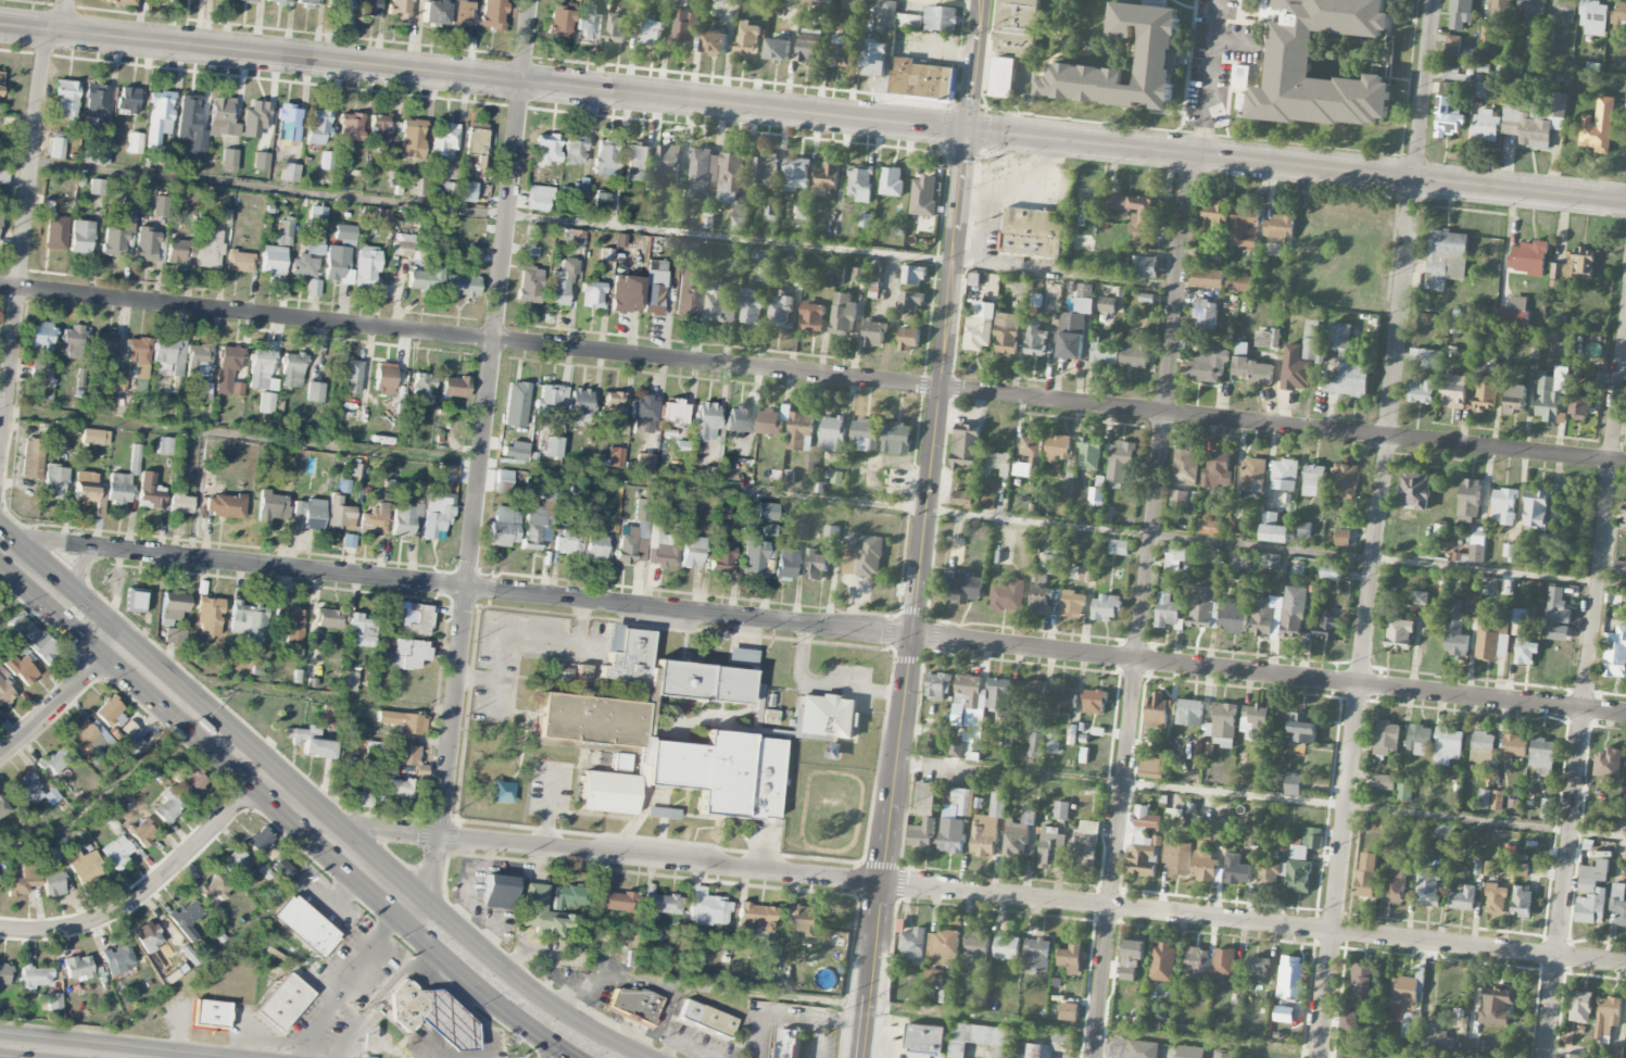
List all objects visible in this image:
building: (245, 0)
building: (702, 0)
building: (121, 1)
building: (278, 2)
building: (308, 2)
building: (823, 3)
road: (947, 3)
building: (341, 4)
building: (368, 8)
building: (853, 8)
building: (401, 10)
building: (1500, 10)
building: (1530, 11)
building: (1564, 11)
building: (434, 12)
building: (461, 12)
building: (1460, 13)
building: (492, 14)
building: (888, 14)
road: (64, 16)
building: (1593, 17)
building: (941, 18)
building: (560, 21)
building: (908, 22)
building: (590, 24)
building: (1017, 26)
building: (683, 27)
building: (617, 29)
building: (652, 33)
building: (1486, 34)
building: (747, 38)
road: (1236, 41)
building: (715, 43)
building: (808, 46)
building: (1451, 46)
building: (778, 50)
building: (842, 53)
building: (1159, 54)
building: (1291, 55)
building: (874, 59)
road: (975, 65)
building: (0, 73)
building: (1450, 76)
road: (1209, 77)
building: (1240, 77)
building: (1003, 78)
road: (483, 79)
building: (921, 79)
building: (1479, 90)
building: (65, 99)
building: (128, 100)
building: (96, 103)
building: (1556, 105)
building: (159, 117)
building: (222, 117)
building: (1447, 117)
building: (254, 118)
building: (287, 122)
building: (1524, 122)
building: (318, 126)
building: (351, 127)
building: (1598, 127)
building: (191, 128)
building: (379, 128)
building: (1485, 128)
traffic signals: (969, 133)
building: (412, 138)
building: (475, 138)
building: (444, 140)
building: (135, 142)
building: (58, 148)
building: (547, 149)
building: (575, 149)
building: (605, 155)
building: (228, 160)
building: (261, 161)
building: (481, 162)
building: (636, 162)
road: (1297, 165)
building: (667, 166)
building: (765, 171)
building: (289, 172)
building: (703, 173)
building: (797, 174)
building: (4, 177)
building: (730, 178)
building: (827, 179)
building: (892, 182)
building: (861, 184)
building: (97, 187)
building: (467, 191)
building: (924, 196)
building: (539, 198)
building: (601, 203)
building: (159, 205)
building: (770, 213)
building: (802, 213)
building: (1214, 215)
building: (1137, 216)
building: (867, 218)
road: (588, 222)
building: (316, 224)
building: (119, 228)
building: (1245, 228)
building: (285, 231)
building: (55, 232)
building: (345, 232)
building: (1033, 232)
building: (1278, 234)
building: (573, 236)
building: (80, 237)
road: (24, 243)
building: (146, 244)
building: (178, 249)
building: (209, 249)
building: (315, 249)
building: (403, 249)
building: (472, 253)
building: (762, 257)
building: (1445, 259)
building: (1528, 259)
building: (273, 260)
building: (240, 261)
building: (338, 264)
building: (304, 266)
building: (1575, 266)
building: (366, 267)
building: (1145, 267)
building: (913, 276)
building: (425, 278)
building: (869, 278)
building: (1207, 279)
building: (560, 281)
building: (1237, 281)
building: (529, 285)
building: (462, 286)
building: (653, 290)
building: (685, 290)
building: (1084, 291)
building: (625, 293)
building: (592, 294)
building: (910, 302)
building: (719, 303)
building: (1107, 305)
building: (749, 307)
building: (780, 312)
building: (1514, 313)
building: (1205, 314)
building: (843, 315)
building: (812, 317)
building: (980, 327)
road: (1625, 332)
building: (1007, 333)
building: (874, 335)
building: (1071, 336)
building: (41, 338)
building: (909, 339)
building: (1035, 339)
building: (1268, 339)
building: (1310, 340)
building: (72, 341)
building: (102, 348)
building: (1104, 351)
building: (168, 355)
building: (1134, 355)
building: (138, 356)
building: (1425, 357)
building: (197, 360)
building: (1208, 366)
building: (262, 369)
building: (292, 369)
building: (228, 371)
building: (1253, 371)
building: (39, 373)
road: (812, 375)
building: (351, 377)
building: (385, 378)
building: (1348, 380)
building: (455, 387)
building: (423, 388)
building: (1485, 389)
building: (315, 391)
building: (1452, 391)
building: (1422, 392)
building: (1551, 394)
building: (551, 398)
building: (1515, 399)
building: (266, 402)
building: (516, 404)
building: (580, 404)
building: (610, 405)
building: (1579, 405)
building: (675, 412)
building: (643, 414)
road: (99, 419)
building: (738, 419)
building: (705, 421)
building: (768, 423)
building: (801, 431)
building: (832, 433)
building: (865, 434)
building: (94, 437)
building: (896, 439)
building: (164, 445)
building: (966, 445)
building: (553, 446)
building: (1031, 446)
building: (1058, 449)
building: (1089, 454)
building: (616, 456)
building: (31, 457)
road: (482, 457)
building: (135, 459)
building: (645, 462)
building: (1120, 463)
building: (809, 464)
building: (997, 464)
building: (1186, 466)
building: (1022, 470)
building: (1218, 470)
building: (1252, 475)
building: (1284, 476)
building: (54, 481)
building: (1313, 481)
building: (504, 482)
building: (1345, 483)
building: (118, 488)
building: (90, 490)
building: (1415, 491)
building: (150, 492)
building: (1095, 497)
building: (1178, 497)
building: (966, 500)
building: (1469, 501)
building: (180, 503)
building: (987, 503)
building: (225, 505)
building: (272, 506)
building: (1504, 506)
building: (642, 508)
building: (1536, 509)
building: (766, 511)
building: (437, 513)
building: (307, 514)
building: (339, 514)
road: (980, 515)
building: (1623, 515)
building: (404, 518)
building: (374, 519)
building: (535, 524)
building: (504, 527)
building: (1209, 527)
road: (1376, 528)
building: (1272, 529)
building: (1302, 530)
building: (831, 533)
building: (1343, 538)
building: (567, 541)
building: (633, 544)
building: (595, 547)
building: (1119, 547)
building: (1474, 547)
building: (1510, 550)
building: (693, 552)
building: (754, 553)
building: (1174, 555)
building: (721, 556)
building: (864, 557)
building: (1540, 557)
road: (16, 559)
building: (1269, 561)
building: (785, 564)
building: (816, 565)
building: (1054, 565)
building: (1619, 568)
building: (1331, 572)
building: (1086, 575)
building: (963, 590)
road: (16, 593)
road: (918, 595)
building: (1007, 596)
road: (84, 599)
building: (1421, 599)
building: (136, 601)
building: (1041, 601)
building: (174, 604)
building: (1072, 604)
road: (1142, 606)
building: (1558, 606)
building: (1201, 607)
building: (1106, 608)
building: (0, 609)
building: (1168, 610)
building: (1293, 613)
building: (209, 616)
building: (1233, 616)
building: (1266, 616)
building: (328, 618)
building: (416, 619)
road: (65, 621)
building: (249, 621)
building: (1518, 622)
building: (290, 625)
road: (812, 626)
building: (1326, 628)
building: (362, 630)
building: (1455, 630)
building: (1399, 634)
building: (174, 635)
building: (1491, 641)
building: (40, 644)
building: (1525, 651)
building: (409, 653)
building: (1615, 654)
building: (628, 656)
building: (741, 657)
building: (20, 669)
building: (582, 672)
building: (349, 681)
building: (701, 682)
road: (825, 683)
road: (1586, 684)
building: (937, 687)
building: (756, 688)
building: (1032, 691)
building: (5, 693)
road: (319, 695)
building: (981, 695)
building: (1061, 700)
building: (1095, 702)
road: (60, 704)
building: (1159, 710)
building: (110, 711)
building: (1190, 713)
building: (825, 716)
building: (590, 720)
building: (404, 721)
building: (1253, 722)
building: (1222, 726)
building: (1303, 729)
building: (1071, 735)
building: (130, 736)
building: (81, 738)
building: (1007, 738)
building: (1387, 739)
building: (1419, 740)
building: (312, 742)
building: (1051, 743)
building: (1035, 745)
building: (1447, 746)
building: (1483, 747)
building: (1513, 747)
building: (400, 756)
building: (642, 756)
building: (1542, 757)
building: (55, 760)
building: (619, 761)
building: (1608, 764)
building: (1150, 766)
building: (721, 772)
road: (263, 776)
building: (191, 779)
building: (1385, 782)
building: (1293, 784)
building: (400, 789)
building: (25, 790)
road: (101, 792)
building: (608, 792)
building: (1403, 792)
building: (361, 797)
road: (1261, 797)
building: (924, 798)
building: (1484, 799)
building: (963, 801)
building: (1497, 801)
building: (168, 806)
building: (3, 808)
building: (1061, 810)
building: (663, 813)
building: (1146, 819)
building: (987, 827)
building: (142, 832)
building: (1445, 833)
building: (1219, 834)
building: (922, 835)
building: (951, 835)
building: (1018, 835)
building: (1312, 837)
building: (260, 840)
building: (1084, 846)
building: (1051, 848)
building: (116, 852)
building: (1299, 852)
building: (1144, 857)
building: (1176, 858)
building: (1203, 862)
building: (236, 864)
building: (1477, 865)
building: (85, 867)
building: (283, 868)
building: (1489, 869)
building: (1236, 870)
building: (1269, 872)
building: (1367, 876)
building: (1298, 877)
building: (24, 879)
building: (53, 884)
building: (1395, 885)
building: (214, 887)
building: (1427, 889)
road: (150, 890)
building: (499, 892)
road: (976, 893)
building: (1592, 894)
building: (569, 896)
building: (1464, 899)
building: (1496, 899)
building: (616, 900)
building: (1522, 903)
building: (1618, 904)
building: (658, 907)
building: (707, 908)
building: (541, 911)
building: (754, 918)
building: (186, 919)
building: (803, 920)
building: (305, 925)
building: (150, 942)
building: (913, 944)
building: (943, 946)
building: (976, 947)
building: (1007, 948)
road: (489, 955)
building: (1036, 955)
building: (1132, 958)
building: (117, 959)
building: (1071, 959)
building: (1197, 961)
building: (1163, 962)
building: (1223, 963)
building: (1258, 966)
building: (77, 967)
building: (33, 973)
building: (4, 974)
building: (934, 978)
road: (349, 979)
building: (1361, 985)
road: (481, 990)
building: (1407, 990)
building: (54, 1002)
building: (282, 1002)
building: (633, 1004)
building: (1496, 1006)
building: (1580, 1007)
road: (888, 1008)
building: (1069, 1012)
building: (210, 1013)
building: (1396, 1013)
building: (431, 1016)
road: (793, 1017)
building: (706, 1018)
building: (1608, 1018)
building: (1348, 1021)
building: (1410, 1026)
road: (604, 1037)
road: (818, 1038)
building: (924, 1040)
building: (980, 1040)
building: (1438, 1041)
building: (789, 1043)
building: (1048, 1047)
building: (1470, 1047)
road: (546, 1048)
building: (1142, 1049)
road: (61, 1050)
building: (1615, 1051)
building: (1190, 1053)
building: (1223, 1055)
building: (1570, 1056)
road: (1331, 1057)

